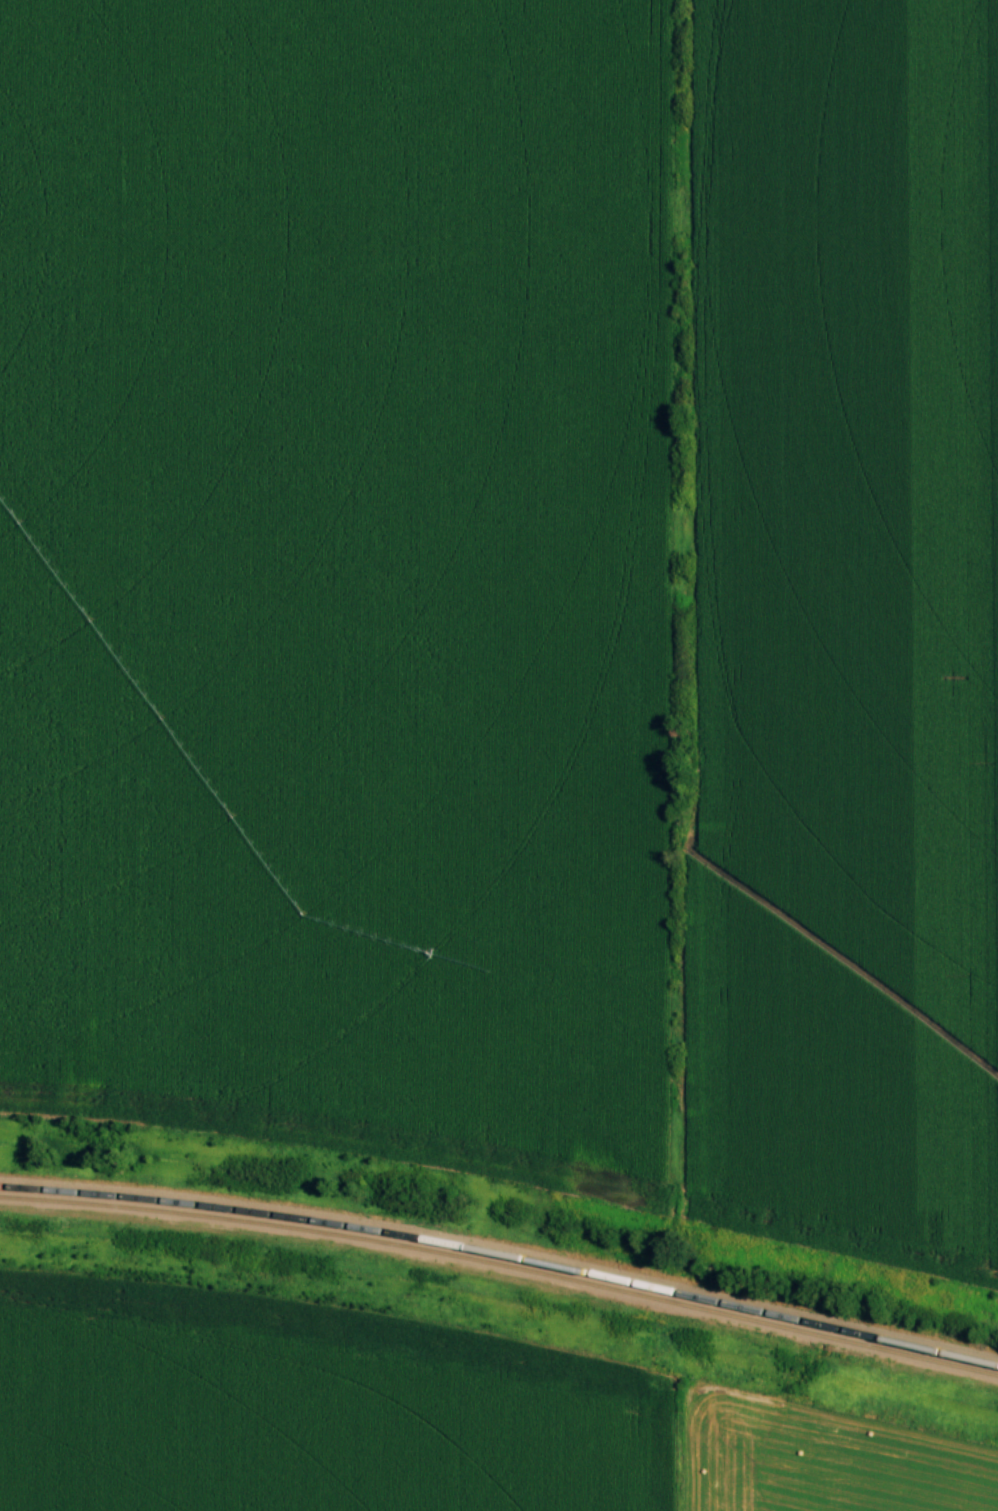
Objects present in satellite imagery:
railway: (502, 1254)
railway: (502, 1265)

